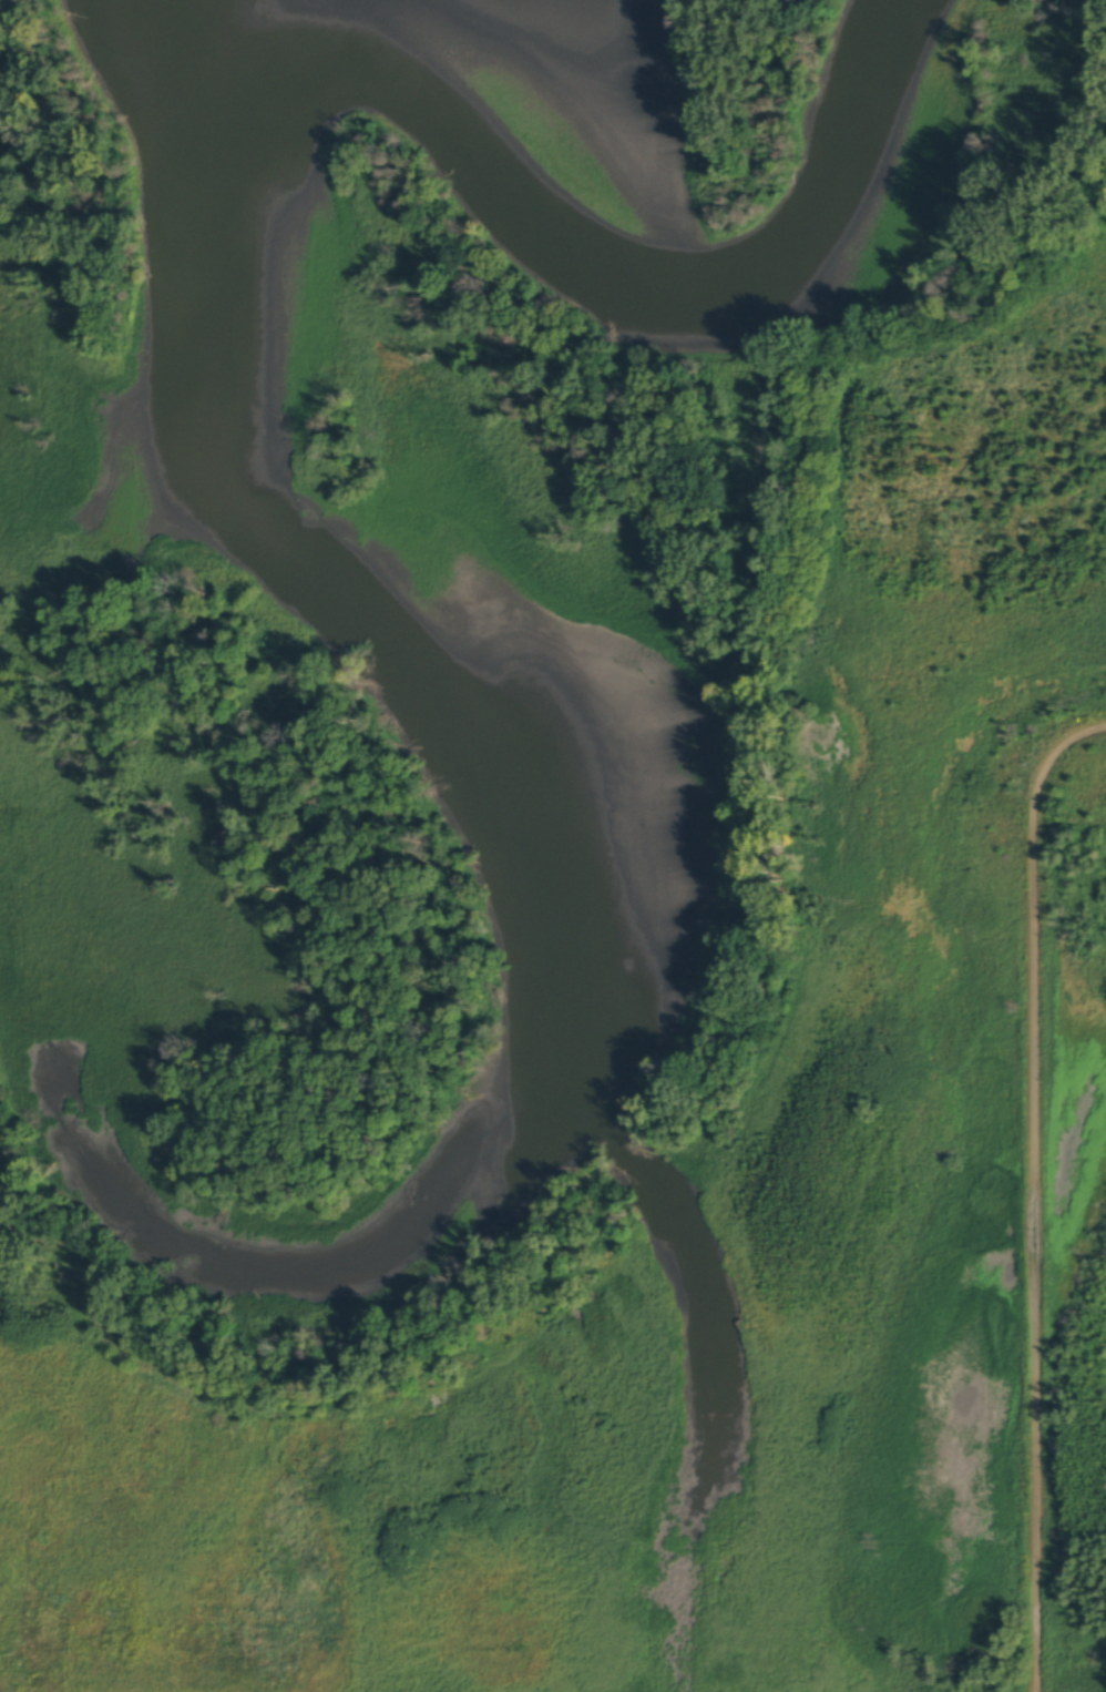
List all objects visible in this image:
road: (1072, 730)
road: (1038, 1212)

